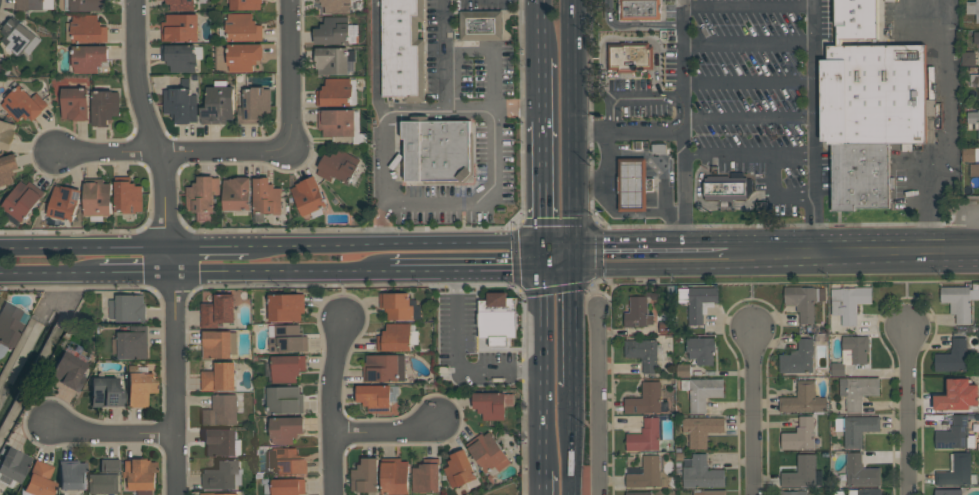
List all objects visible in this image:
building: (33, 4)
building: (181, 4)
building: (245, 4)
building: (84, 5)
building: (336, 6)
road: (752, 7)
building: (973, 8)
building: (641, 11)
building: (482, 25)
road: (634, 25)
road: (813, 25)
building: (180, 27)
building: (243, 27)
road: (542, 28)
building: (88, 29)
building: (333, 30)
building: (18, 37)
building: (976, 37)
road: (628, 39)
road: (748, 45)
building: (404, 52)
road: (446, 53)
road: (377, 54)
building: (243, 56)
road: (489, 56)
building: (87, 57)
building: (180, 57)
building: (631, 57)
building: (968, 58)
building: (333, 60)
road: (290, 73)
building: (974, 79)
road: (749, 84)
road: (543, 87)
building: (335, 92)
road: (632, 98)
building: (22, 103)
building: (75, 103)
building: (218, 103)
building: (255, 103)
building: (180, 104)
building: (868, 105)
road: (495, 106)
building: (104, 107)
road: (413, 108)
road: (749, 118)
building: (973, 120)
road: (578, 121)
road: (684, 121)
building: (336, 122)
road: (948, 129)
road: (648, 131)
road: (596, 132)
building: (6, 134)
road: (815, 149)
building: (439, 150)
road: (173, 152)
road: (750, 154)
building: (968, 154)
building: (977, 154)
road: (382, 157)
road: (607, 165)
building: (338, 166)
building: (8, 168)
building: (974, 169)
road: (660, 170)
road: (544, 181)
building: (634, 184)
gas station: (634, 184)
building: (725, 189)
building: (236, 193)
building: (127, 195)
building: (308, 195)
road: (774, 195)
building: (266, 196)
building: (203, 197)
building: (97, 198)
building: (22, 199)
building: (64, 202)
road: (462, 204)
road: (964, 229)
road: (655, 243)
road: (395, 244)
traffic signals: (545, 244)
road: (562, 244)
traffic signals: (579, 244)
road: (169, 245)
road: (208, 246)
road: (85, 247)
road: (971, 252)
road: (847, 254)
road: (655, 268)
traffic signals: (579, 270)
road: (484, 271)
traffic signals: (545, 271)
road: (280, 273)
road: (135, 275)
road: (49, 276)
road: (751, 291)
road: (907, 291)
building: (803, 300)
building: (697, 301)
building: (959, 301)
building: (849, 303)
building: (399, 306)
building: (285, 307)
building: (128, 308)
building: (217, 311)
building: (637, 312)
road: (578, 314)
building: (499, 319)
building: (9, 325)
building: (665, 327)
building: (397, 337)
building: (287, 339)
building: (130, 344)
building: (219, 344)
building: (701, 349)
building: (854, 349)
building: (643, 353)
road: (543, 357)
building: (798, 357)
building: (953, 357)
road: (458, 359)
building: (384, 367)
building: (287, 368)
building: (837, 369)
building: (683, 370)
building: (68, 372)
building: (219, 377)
building: (138, 386)
building: (105, 391)
building: (857, 391)
building: (702, 392)
building: (957, 395)
building: (378, 397)
road: (601, 399)
building: (644, 399)
building: (803, 399)
building: (285, 400)
road: (333, 404)
building: (492, 404)
building: (220, 411)
road: (752, 411)
road: (907, 411)
building: (856, 428)
building: (285, 429)
building: (702, 429)
road: (389, 430)
road: (113, 432)
building: (800, 434)
building: (955, 434)
building: (645, 436)
road: (577, 439)
building: (220, 443)
building: (487, 452)
building: (285, 462)
building: (12, 467)
building: (460, 470)
building: (956, 471)
building: (701, 472)
building: (860, 472)
building: (647, 473)
building: (803, 473)
building: (72, 475)
building: (365, 475)
building: (139, 476)
building: (221, 476)
building: (394, 476)
building: (426, 476)
building: (106, 477)
building: (39, 480)
road: (541, 483)
building: (283, 486)
building: (947, 491)
building: (708, 492)
building: (792, 492)
building: (864, 492)
building: (216, 493)
building: (638, 493)

